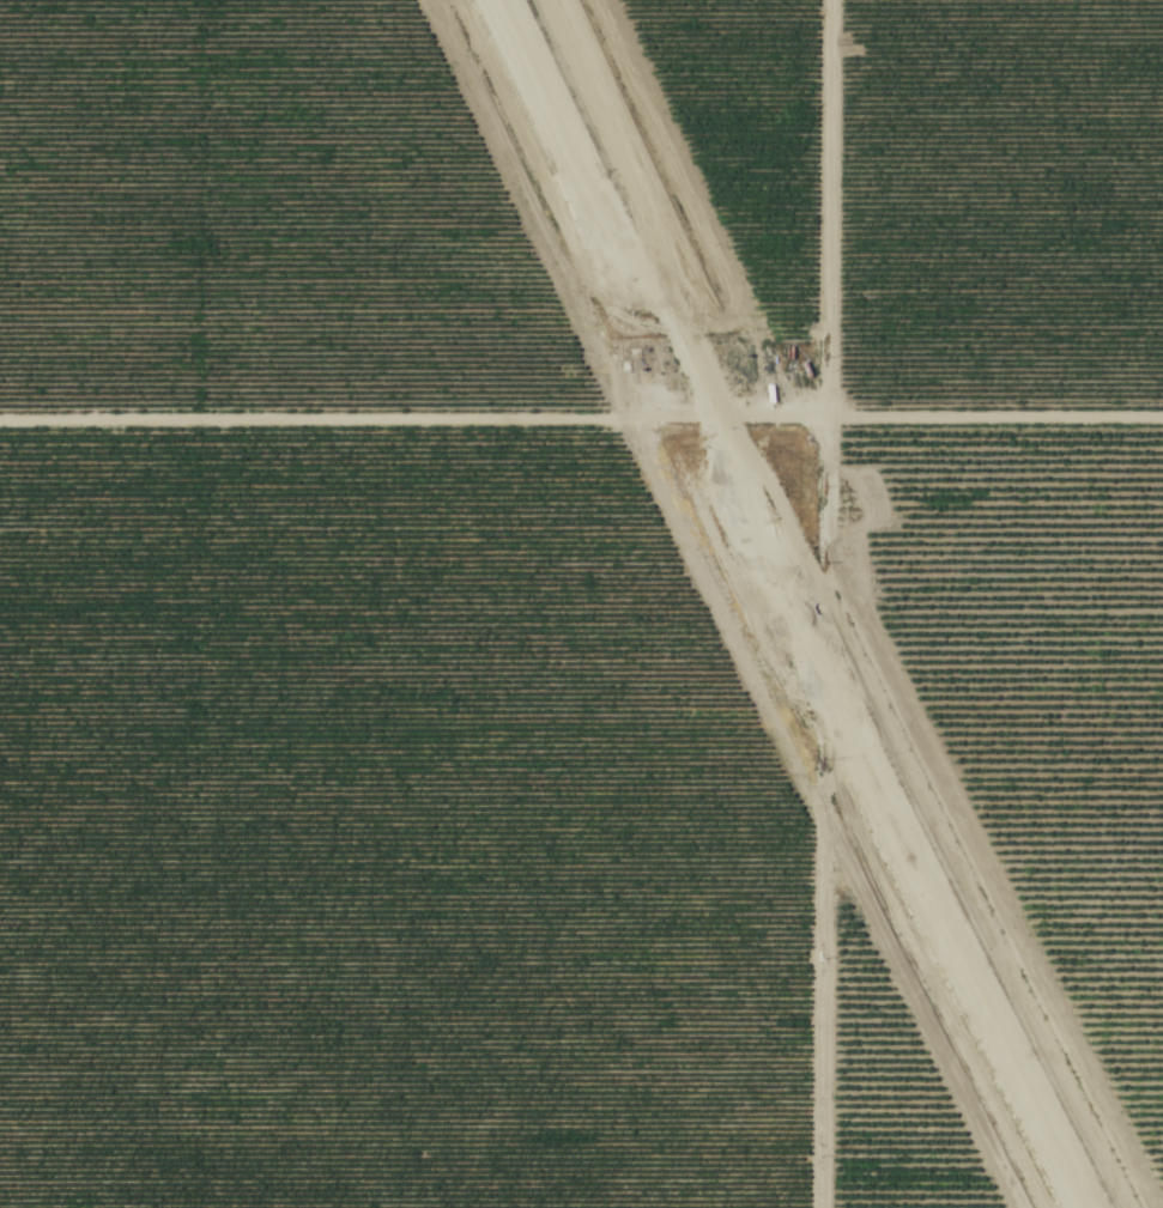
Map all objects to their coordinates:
crop: (738, 134)
crop: (997, 211)
road: (822, 219)
crop: (252, 223)
road: (983, 423)
road: (295, 425)
railway: (776, 606)
railway: (789, 606)
crop: (1047, 685)
crop: (378, 838)
road: (814, 1037)
crop: (879, 1095)

